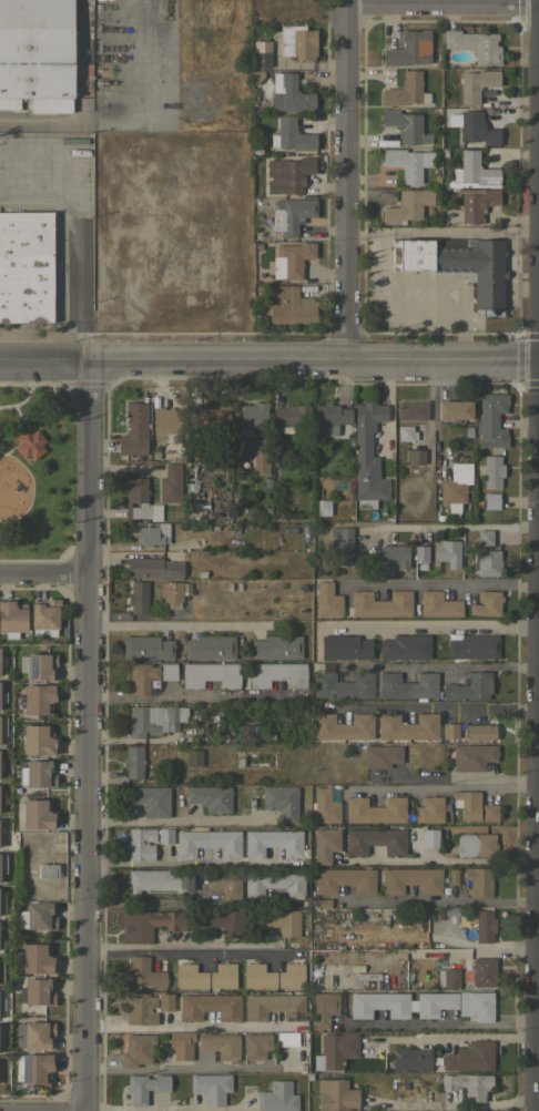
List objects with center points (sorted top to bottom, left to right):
road: (441, 4)
building: (297, 41)
building: (474, 44)
building: (408, 48)
building: (37, 52)
building: (260, 53)
road: (81, 61)
building: (475, 84)
building: (405, 90)
building: (288, 93)
building: (8, 103)
building: (106, 105)
road: (128, 122)
building: (405, 125)
building: (476, 128)
building: (291, 134)
building: (407, 162)
building: (471, 172)
building: (287, 174)
road: (345, 177)
building: (476, 203)
building: (407, 205)
building: (291, 214)
road: (443, 232)
road: (73, 248)
building: (291, 259)
building: (26, 266)
building: (458, 266)
building: (289, 305)
road: (269, 356)
building: (411, 409)
building: (455, 409)
building: (292, 416)
building: (252, 417)
building: (330, 417)
building: (167, 418)
building: (210, 419)
building: (491, 420)
building: (133, 429)
building: (405, 432)
building: (29, 444)
building: (367, 456)
building: (414, 456)
building: (260, 461)
park: (44, 462)
building: (491, 470)
building: (170, 483)
building: (455, 483)
building: (139, 500)
building: (490, 500)
building: (192, 501)
building: (323, 507)
road: (451, 527)
building: (153, 533)
building: (484, 537)
building: (340, 546)
building: (420, 552)
building: (447, 552)
building: (390, 554)
building: (487, 562)
building: (153, 568)
road: (44, 573)
road: (445, 582)
building: (172, 591)
building: (140, 599)
building: (327, 600)
building: (380, 603)
building: (486, 603)
building: (438, 604)
building: (12, 615)
building: (43, 615)
road: (433, 626)
road: (177, 628)
building: (472, 645)
building: (146, 646)
building: (210, 646)
building: (276, 646)
building: (345, 646)
building: (404, 646)
building: (38, 665)
road: (433, 666)
building: (167, 671)
building: (210, 674)
building: (276, 674)
building: (142, 676)
building: (342, 684)
building: (406, 685)
building: (468, 686)
building: (2, 696)
building: (38, 697)
road: (179, 701)
road: (436, 706)
building: (154, 718)
building: (2, 725)
building: (343, 725)
building: (408, 725)
building: (450, 730)
building: (479, 731)
road: (88, 736)
building: (38, 738)
building: (383, 754)
building: (472, 755)
building: (193, 756)
building: (133, 761)
building: (38, 773)
road: (441, 787)
building: (210, 797)
building: (150, 799)
building: (281, 801)
building: (467, 803)
building: (326, 805)
building: (429, 808)
building: (375, 809)
building: (490, 812)
building: (37, 813)
road: (176, 819)
building: (165, 835)
building: (429, 836)
building: (374, 839)
building: (207, 842)
building: (273, 842)
building: (140, 843)
building: (326, 844)
building: (474, 844)
road: (436, 859)
road: (191, 862)
building: (48, 870)
building: (0, 876)
building: (160, 879)
building: (345, 879)
building: (411, 879)
building: (479, 879)
building: (225, 881)
building: (274, 883)
road: (151, 903)
road: (437, 903)
building: (37, 915)
building: (231, 920)
building: (283, 921)
building: (151, 923)
building: (482, 924)
road: (194, 954)
building: (33, 958)
building: (479, 971)
building: (143, 972)
building: (223, 975)
building: (291, 975)
building: (190, 976)
building: (258, 976)
building: (447, 977)
building: (315, 979)
building: (363, 980)
building: (38, 990)
building: (165, 1001)
building: (400, 1003)
building: (476, 1005)
building: (210, 1006)
building: (274, 1006)
building: (324, 1007)
building: (140, 1008)
road: (185, 1026)
building: (34, 1034)
road: (449, 1036)
building: (181, 1043)
building: (245, 1043)
building: (136, 1049)
building: (335, 1050)
building: (470, 1056)
building: (409, 1058)
building: (32, 1068)
road: (174, 1068)
building: (468, 1084)
building: (144, 1087)
building: (211, 1087)
building: (337, 1095)
building: (277, 1097)
road: (458, 1105)
road: (169, 1107)
road: (42, 1110)

